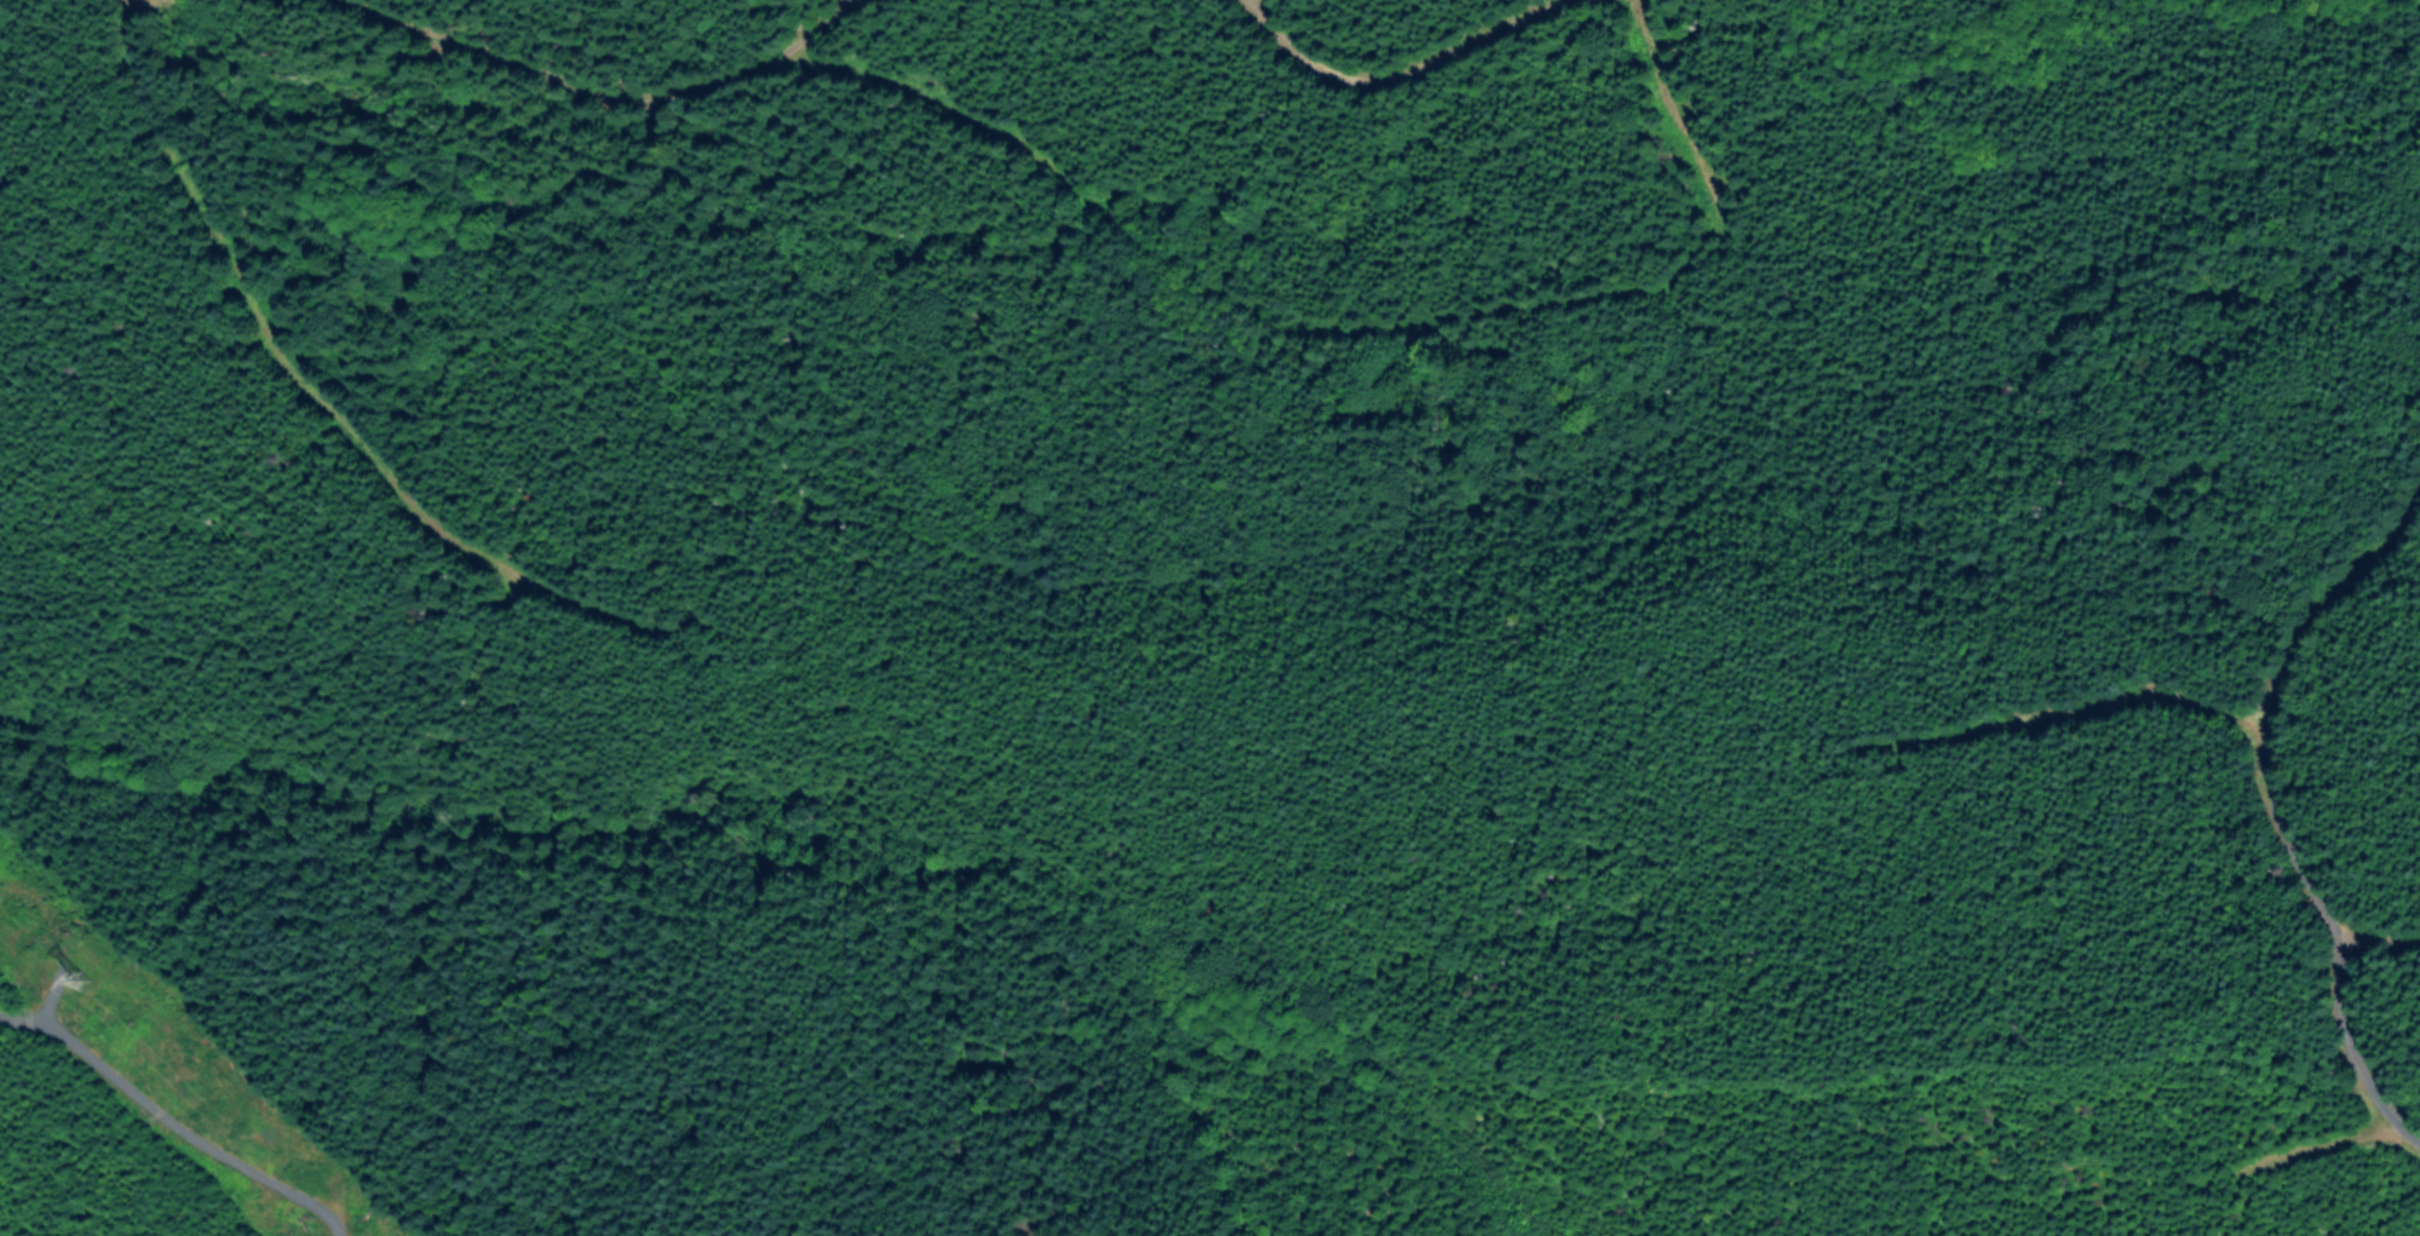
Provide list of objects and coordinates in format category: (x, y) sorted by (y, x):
power tower: (67, 968)

